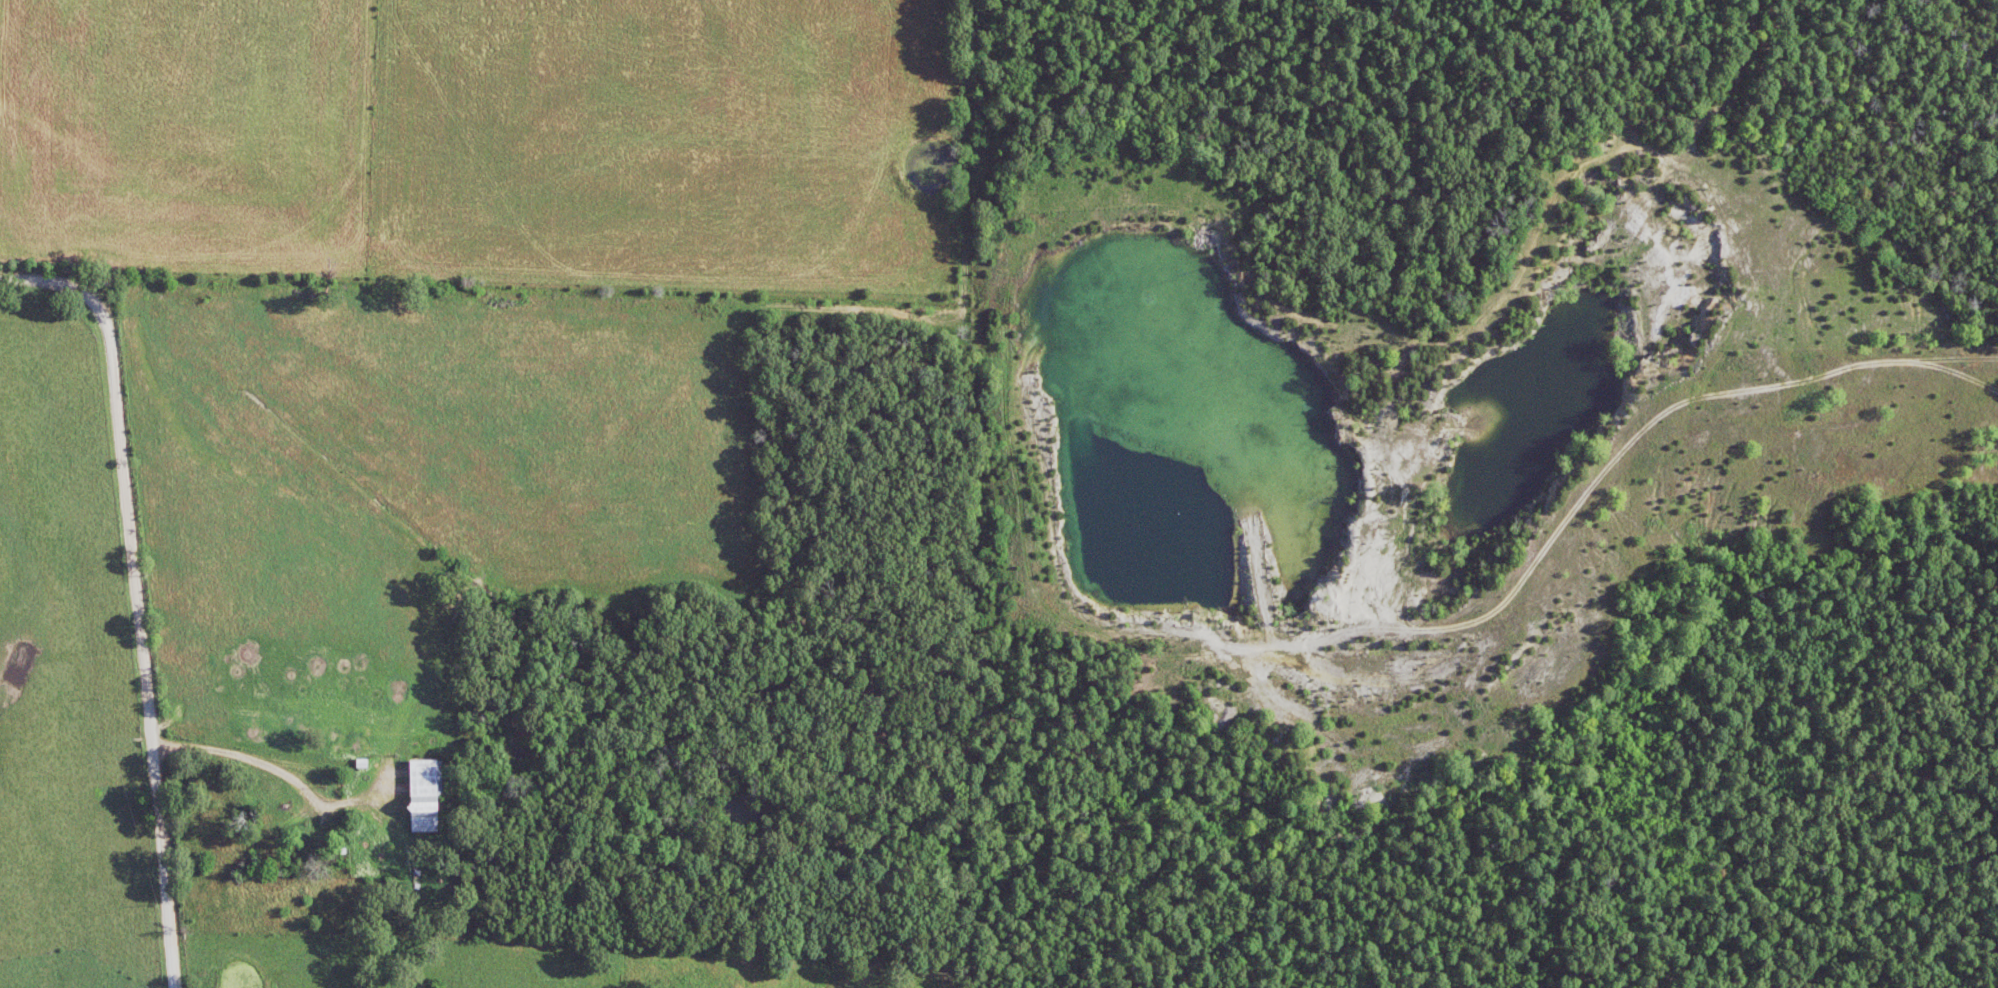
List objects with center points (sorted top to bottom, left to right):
road: (1668, 400)
road: (136, 591)
road: (78, 771)
building: (424, 799)

